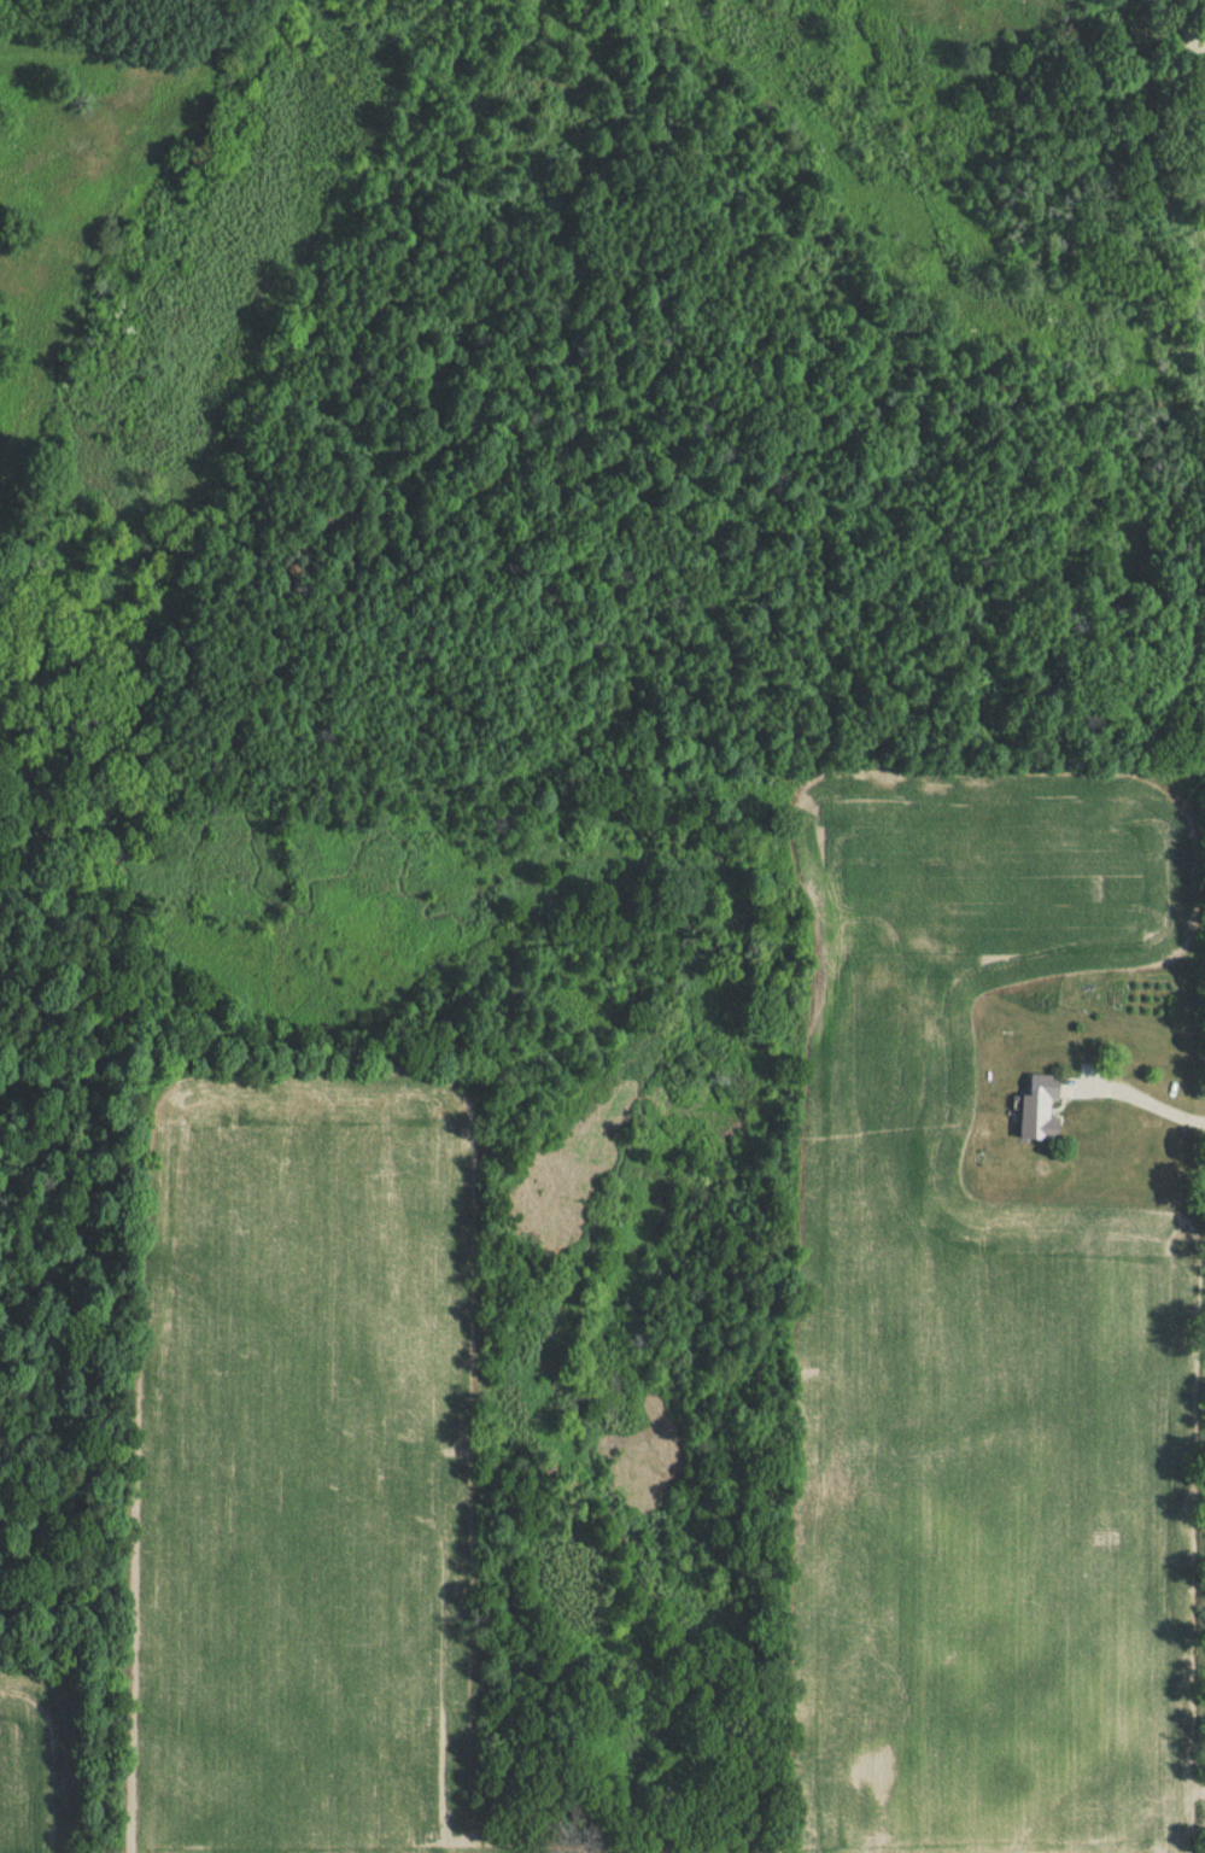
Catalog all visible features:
road: (1140, 1110)
building: (1036, 1113)

